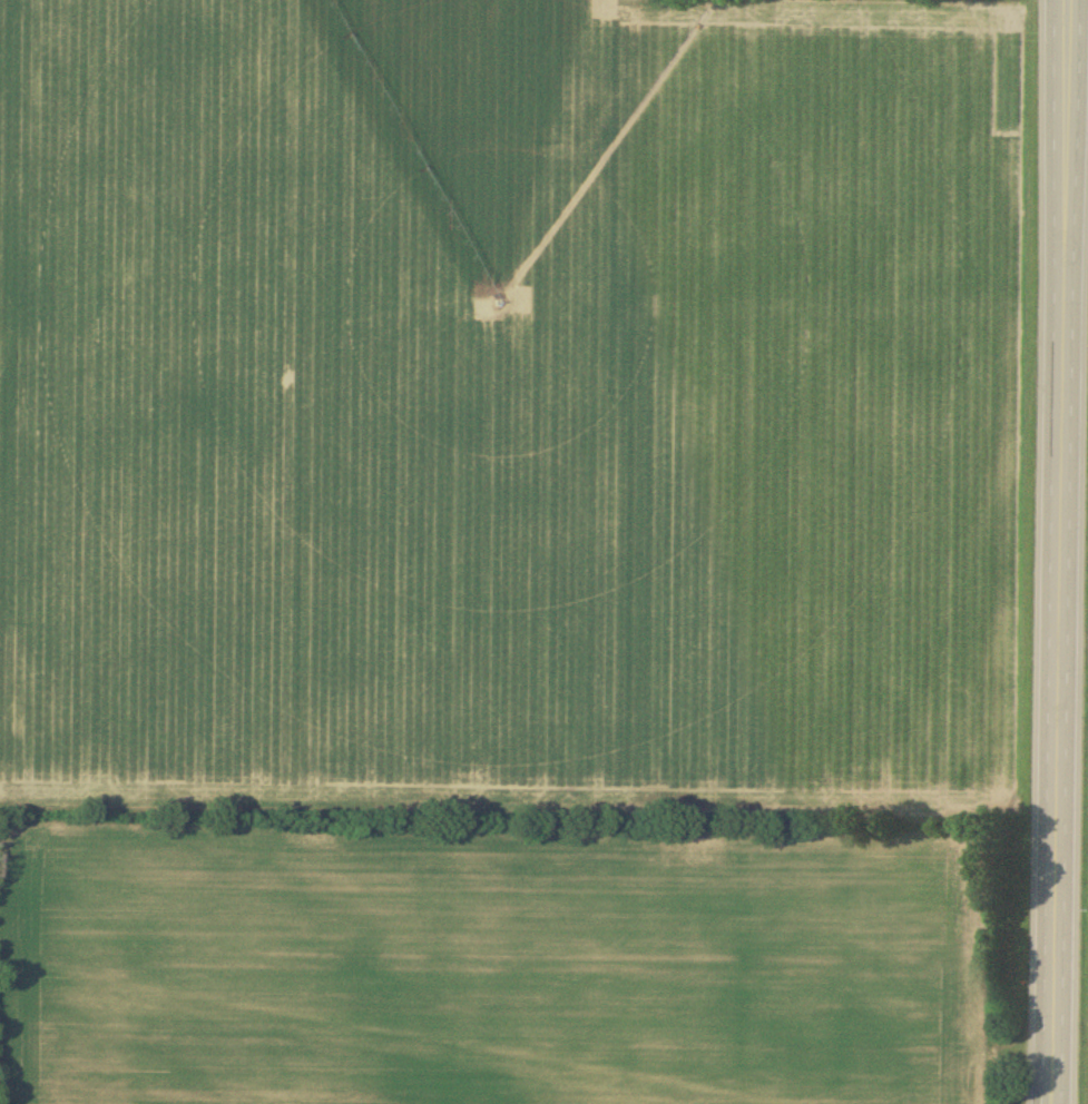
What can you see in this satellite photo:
road: (1058, 552)

